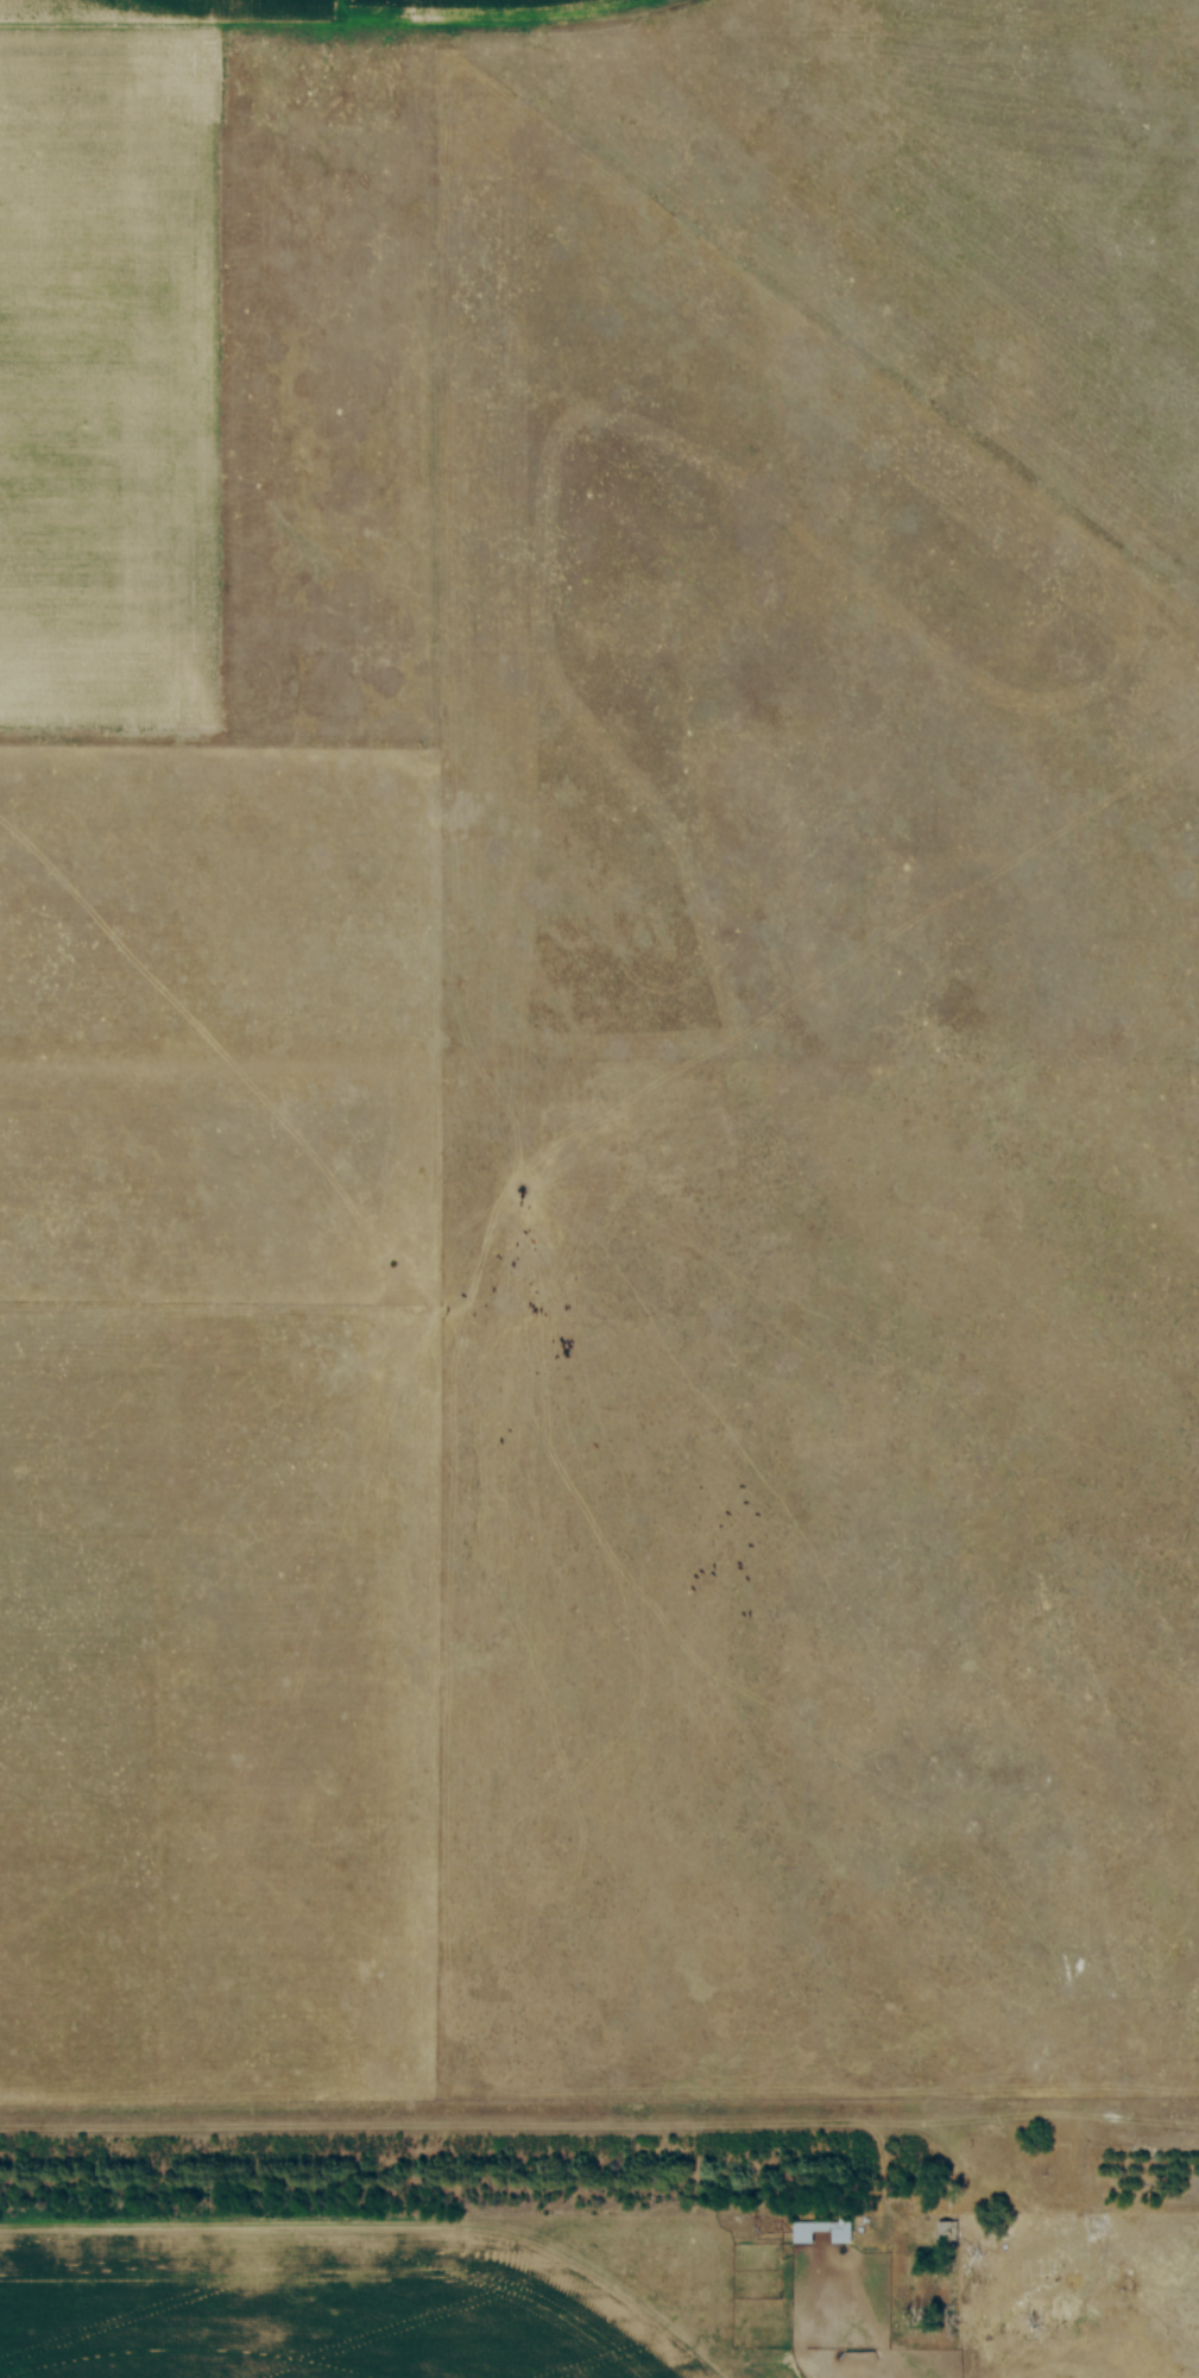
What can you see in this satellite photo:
building: (816, 2233)
building: (945, 2233)

